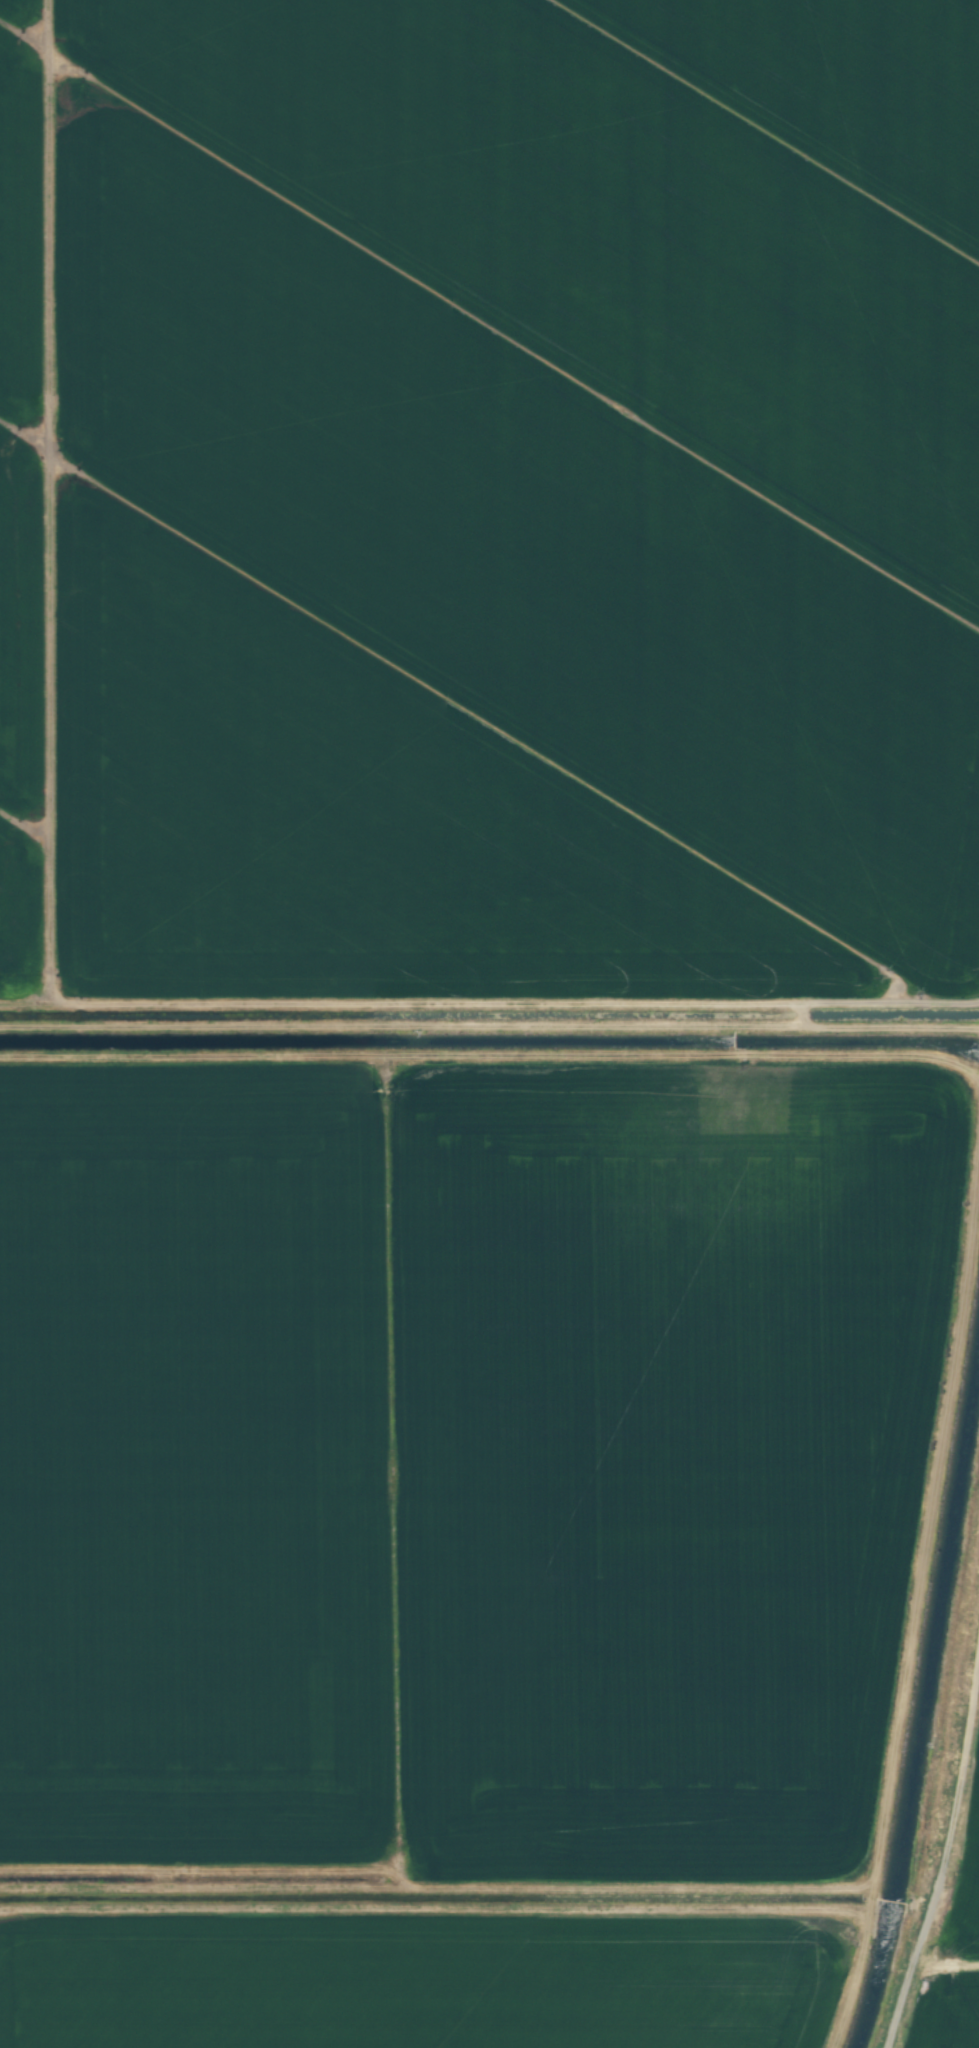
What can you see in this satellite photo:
road: (489, 1025)
road: (971, 2028)

